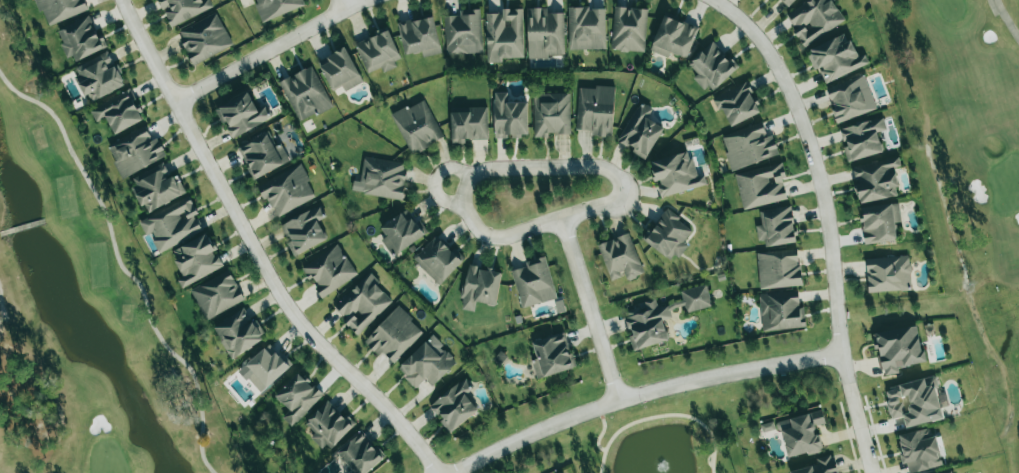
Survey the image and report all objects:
building: (787, 2)
road: (343, 4)
building: (276, 7)
building: (60, 9)
building: (183, 9)
building: (814, 19)
building: (586, 28)
building: (629, 29)
building: (463, 32)
building: (545, 33)
building: (504, 35)
building: (419, 36)
building: (673, 37)
building: (204, 38)
building: (80, 39)
road: (272, 49)
building: (377, 52)
building: (835, 58)
building: (711, 67)
building: (340, 70)
building: (99, 76)
building: (305, 93)
building: (850, 99)
building: (737, 104)
building: (595, 110)
building: (118, 112)
building: (551, 114)
building: (242, 115)
building: (509, 117)
building: (469, 125)
building: (417, 126)
building: (640, 132)
building: (862, 139)
building: (748, 146)
building: (135, 151)
building: (262, 155)
road: (512, 167)
building: (675, 174)
park: (968, 177)
park: (968, 177)
building: (381, 178)
building: (875, 180)
road: (434, 181)
building: (156, 186)
building: (761, 186)
building: (287, 190)
road: (828, 219)
building: (879, 223)
building: (172, 224)
building: (776, 227)
building: (304, 230)
building: (401, 232)
building: (668, 236)
road: (256, 252)
building: (620, 258)
building: (196, 259)
building: (438, 260)
building: (778, 269)
building: (329, 270)
building: (888, 274)
building: (533, 283)
building: (480, 287)
building: (217, 295)
building: (362, 304)
park: (84, 307)
park: (84, 307)
road: (590, 308)
building: (781, 311)
building: (660, 316)
building: (238, 332)
building: (393, 335)
building: (897, 349)
building: (551, 356)
building: (427, 363)
building: (266, 367)
road: (641, 394)
building: (297, 398)
building: (914, 402)
building: (455, 406)
building: (328, 425)
building: (767, 427)
building: (800, 434)
building: (919, 450)
building: (360, 454)
building: (819, 466)
building: (948, 472)

